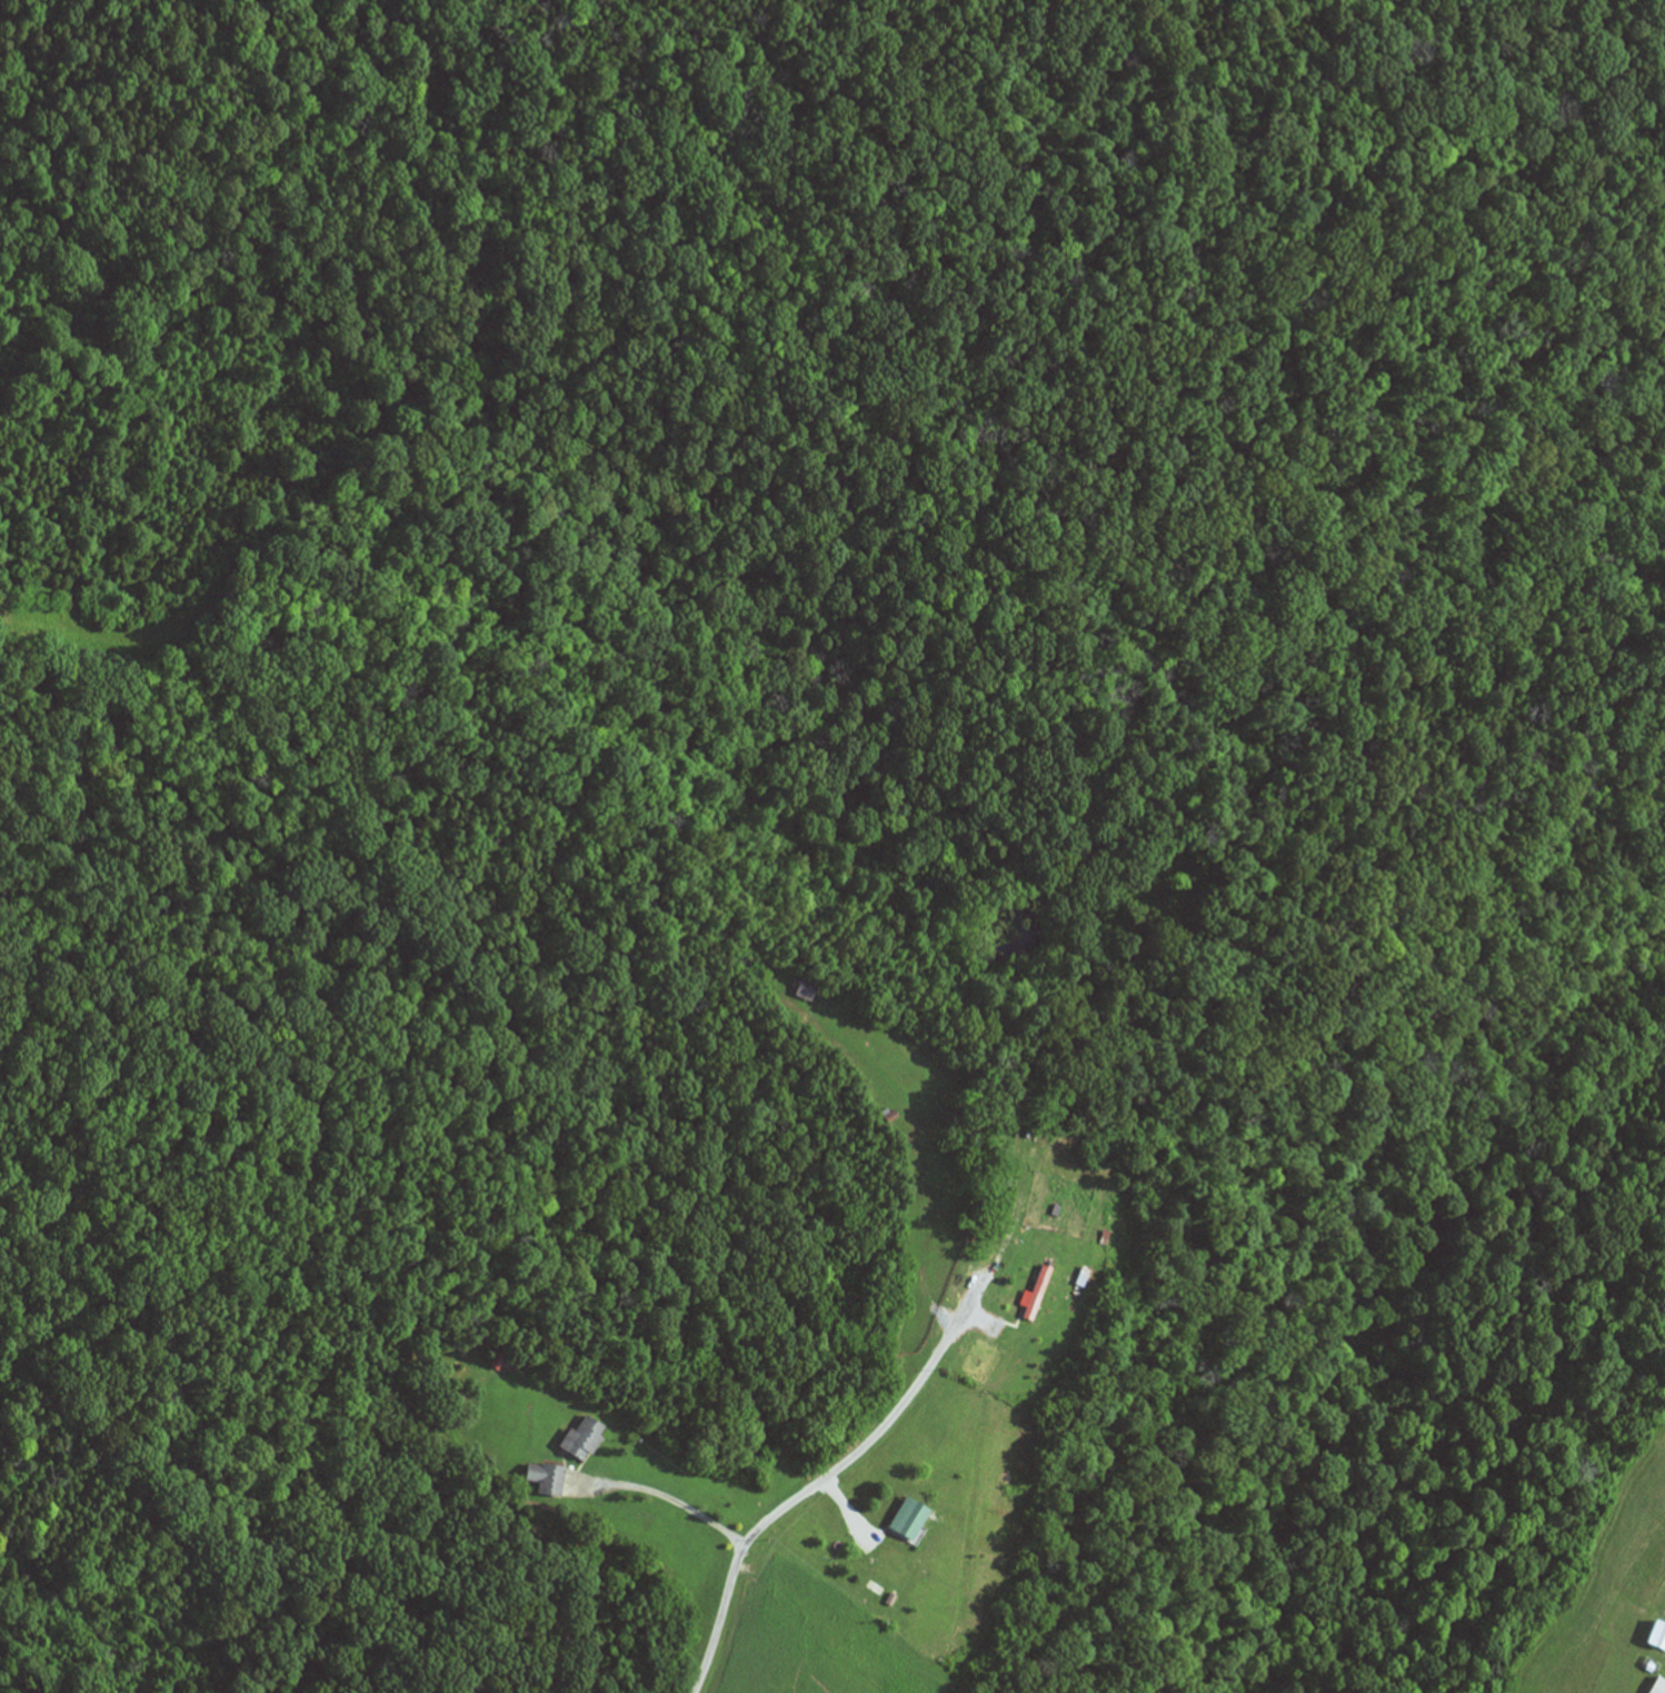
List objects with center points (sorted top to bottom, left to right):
building: (1038, 1292)
road: (937, 1353)
building: (581, 1438)
building: (547, 1477)
building: (909, 1518)
building: (1657, 1634)
building: (1658, 1685)

